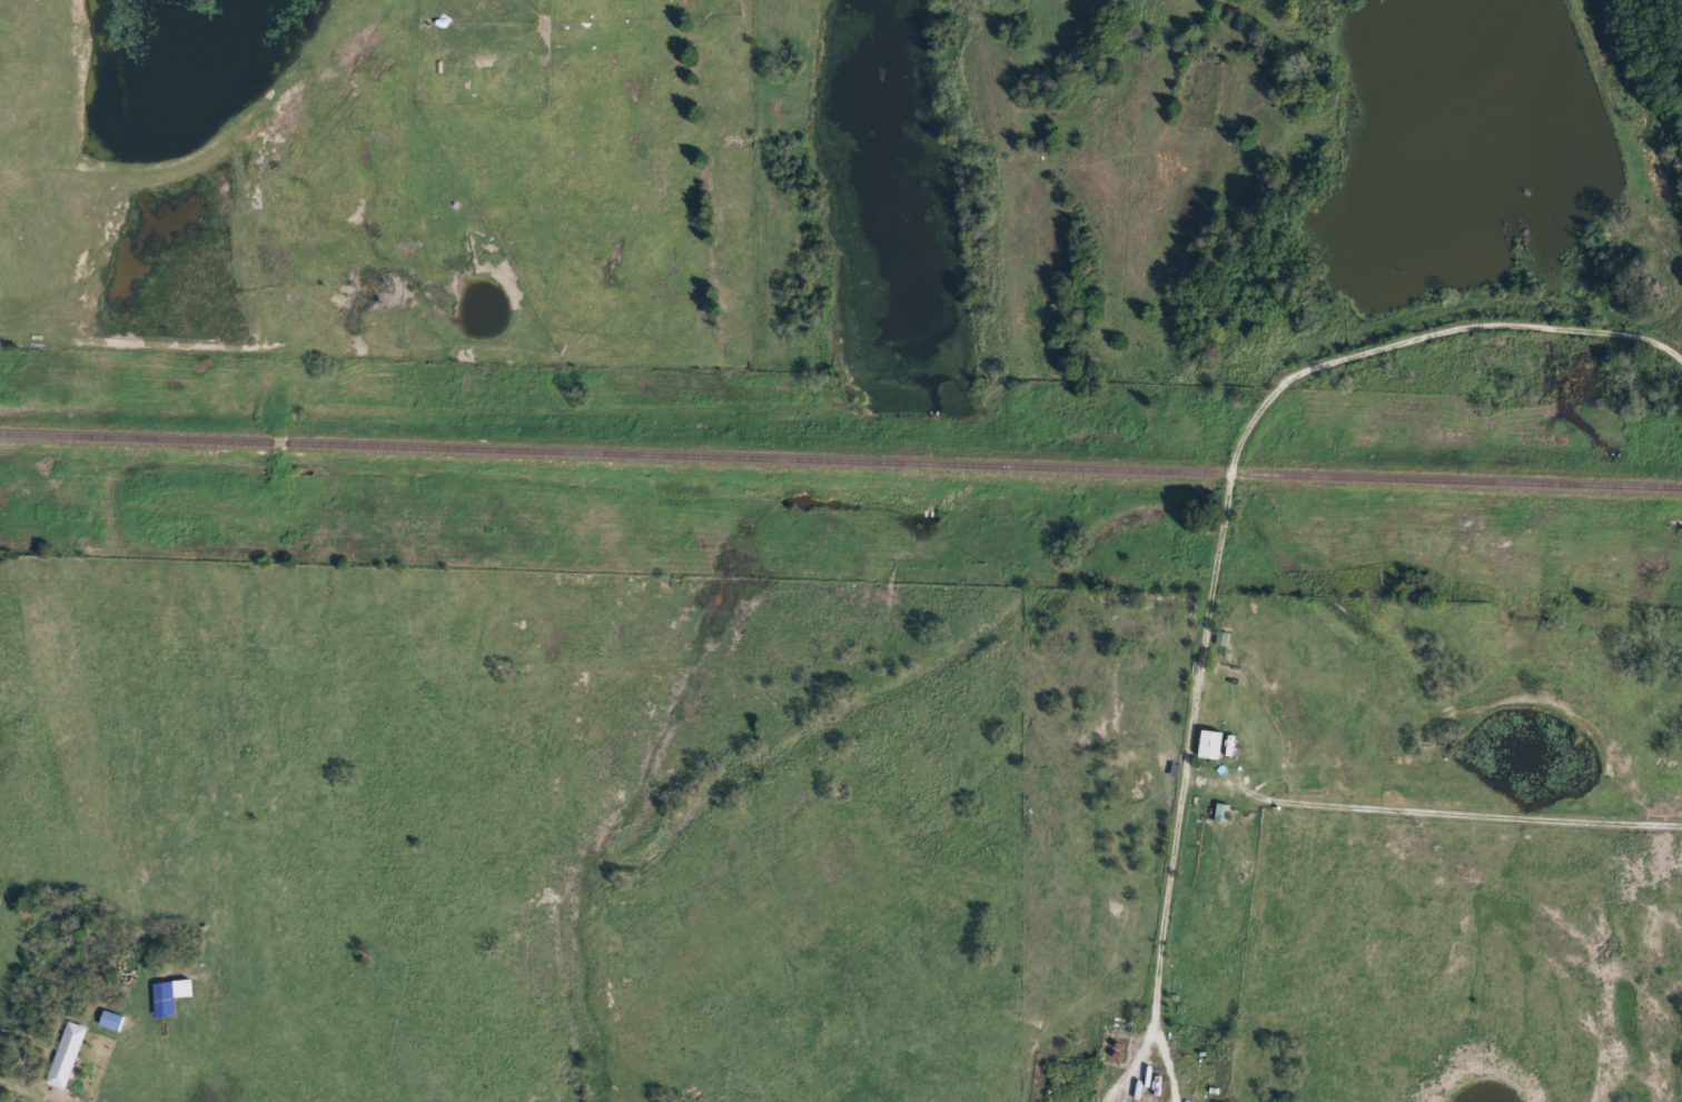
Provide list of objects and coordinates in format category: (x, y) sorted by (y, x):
railway: (841, 459)
building: (1208, 746)
building: (1221, 815)
building: (171, 999)
building: (117, 1022)
building: (70, 1058)

